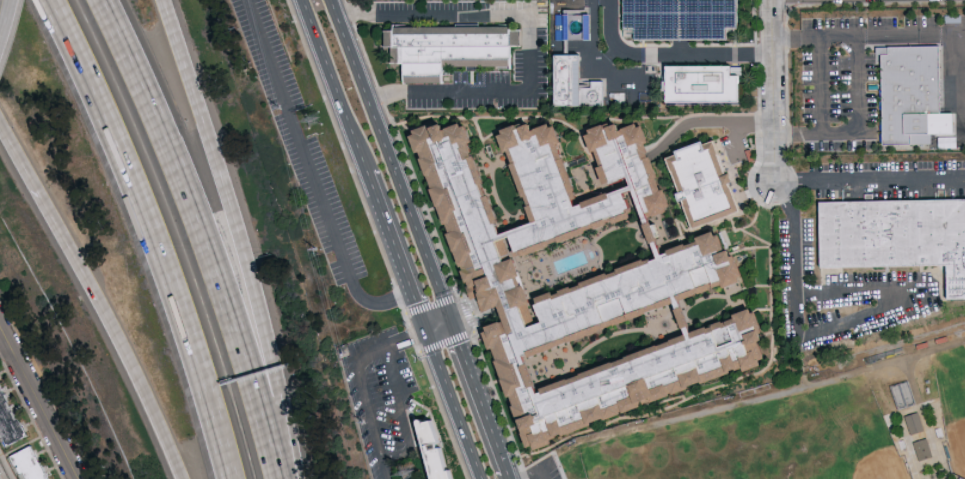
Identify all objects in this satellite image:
building: (680, 19)
road: (5, 21)
road: (868, 34)
road: (528, 37)
building: (449, 54)
road: (668, 56)
building: (556, 63)
road: (609, 75)
road: (960, 81)
building: (703, 84)
road: (820, 84)
road: (330, 86)
building: (575, 86)
road: (638, 90)
road: (772, 93)
building: (910, 98)
building: (553, 99)
power tower: (318, 123)
road: (725, 123)
road: (857, 126)
road: (740, 139)
road: (387, 161)
road: (312, 171)
road: (869, 180)
building: (702, 185)
road: (161, 233)
road: (201, 235)
road: (240, 236)
road: (59, 239)
building: (896, 241)
road: (391, 252)
building: (618, 286)
traffic signals: (448, 323)
road: (836, 324)
traffic signals: (422, 332)
road: (411, 336)
road: (4, 346)
parking lot: (382, 398)
road: (477, 398)
road: (36, 403)
road: (450, 405)
park: (952, 405)
road: (400, 413)
building: (11, 415)
road: (143, 416)
road: (371, 419)
park: (797, 424)
park: (837, 436)
building: (433, 451)
building: (35, 463)
park: (663, 464)
road: (2, 473)
building: (3, 473)
road: (536, 473)
parking lot: (555, 474)
power tower: (412, 476)
road: (507, 476)

